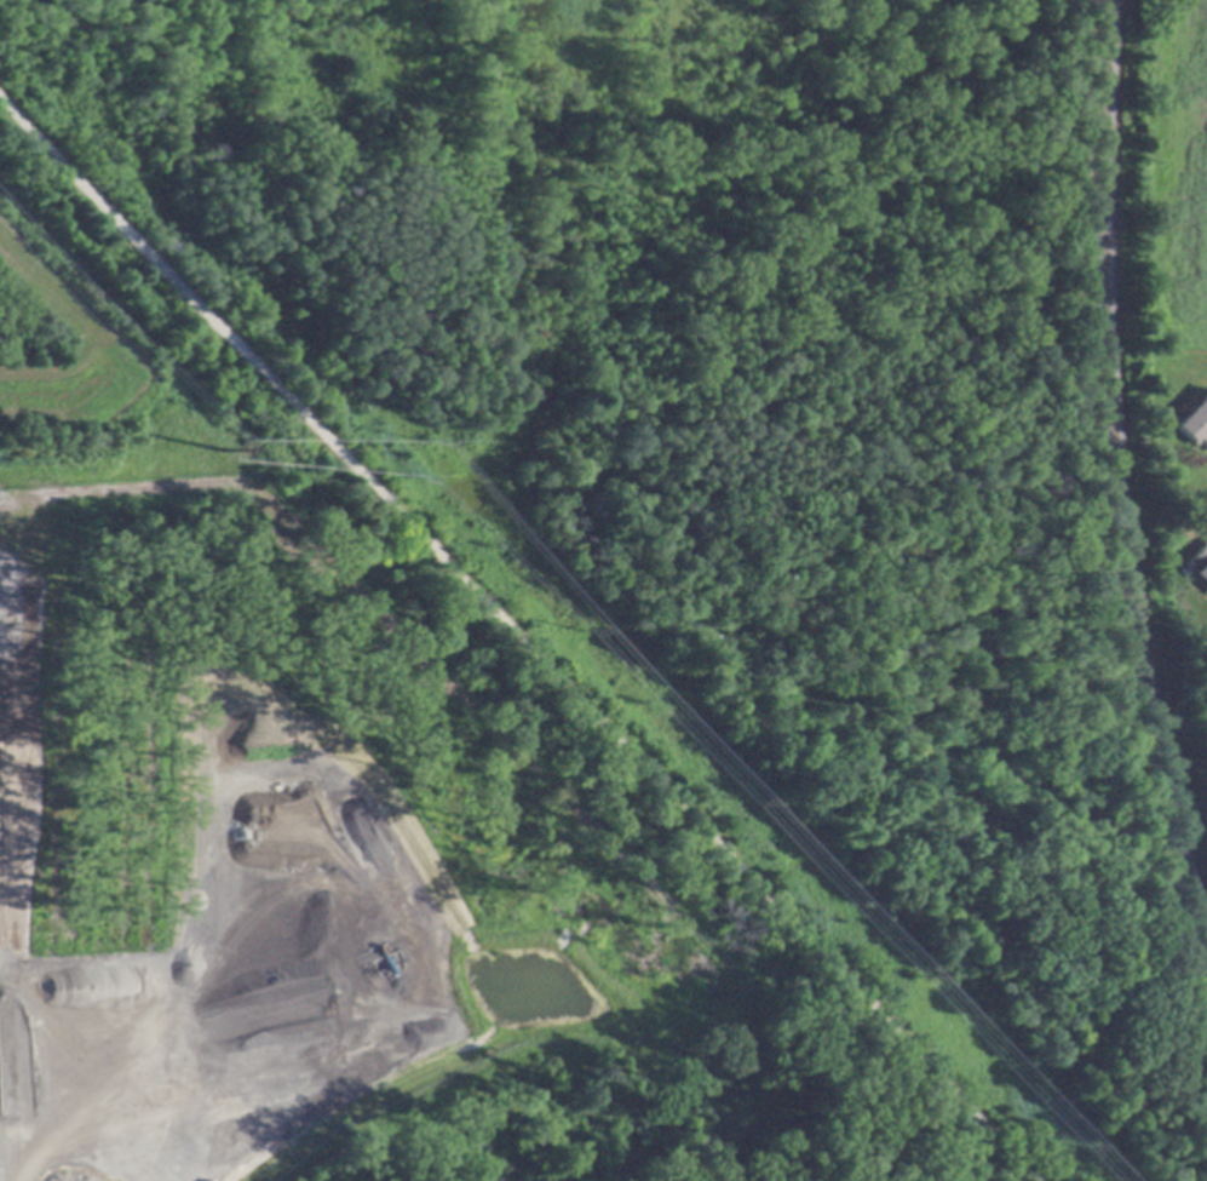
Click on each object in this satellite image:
crop: (1178, 182)
building: (1195, 425)
power tower: (423, 437)
power tower: (222, 448)
railway: (1120, 470)
power tower: (410, 471)
building: (1199, 563)
power tower: (581, 625)
road: (518, 641)
power tower: (747, 798)
power tower: (915, 971)
park: (833, 1105)
power tower: (1080, 1145)

